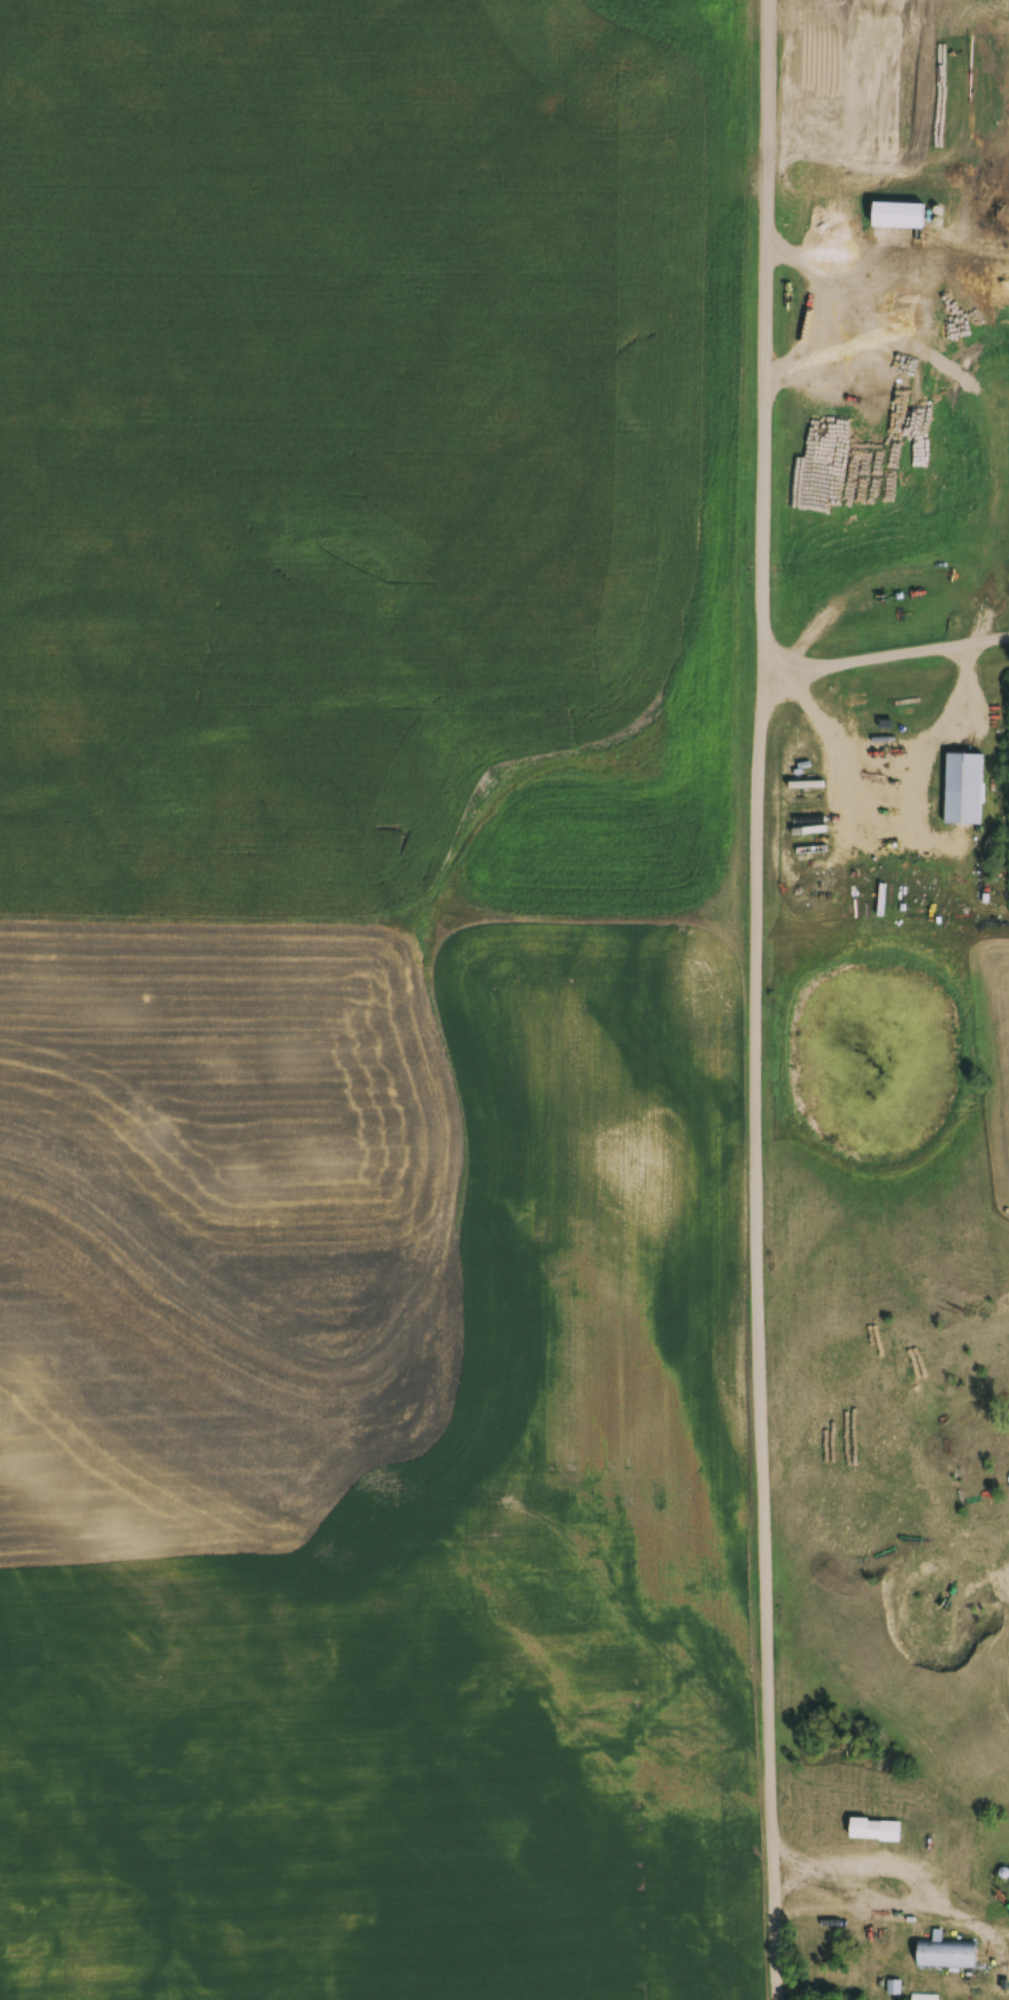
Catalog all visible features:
road: (887, 655)
building: (962, 787)
road: (759, 1000)
building: (875, 1828)
road: (929, 1891)
building: (945, 1952)

